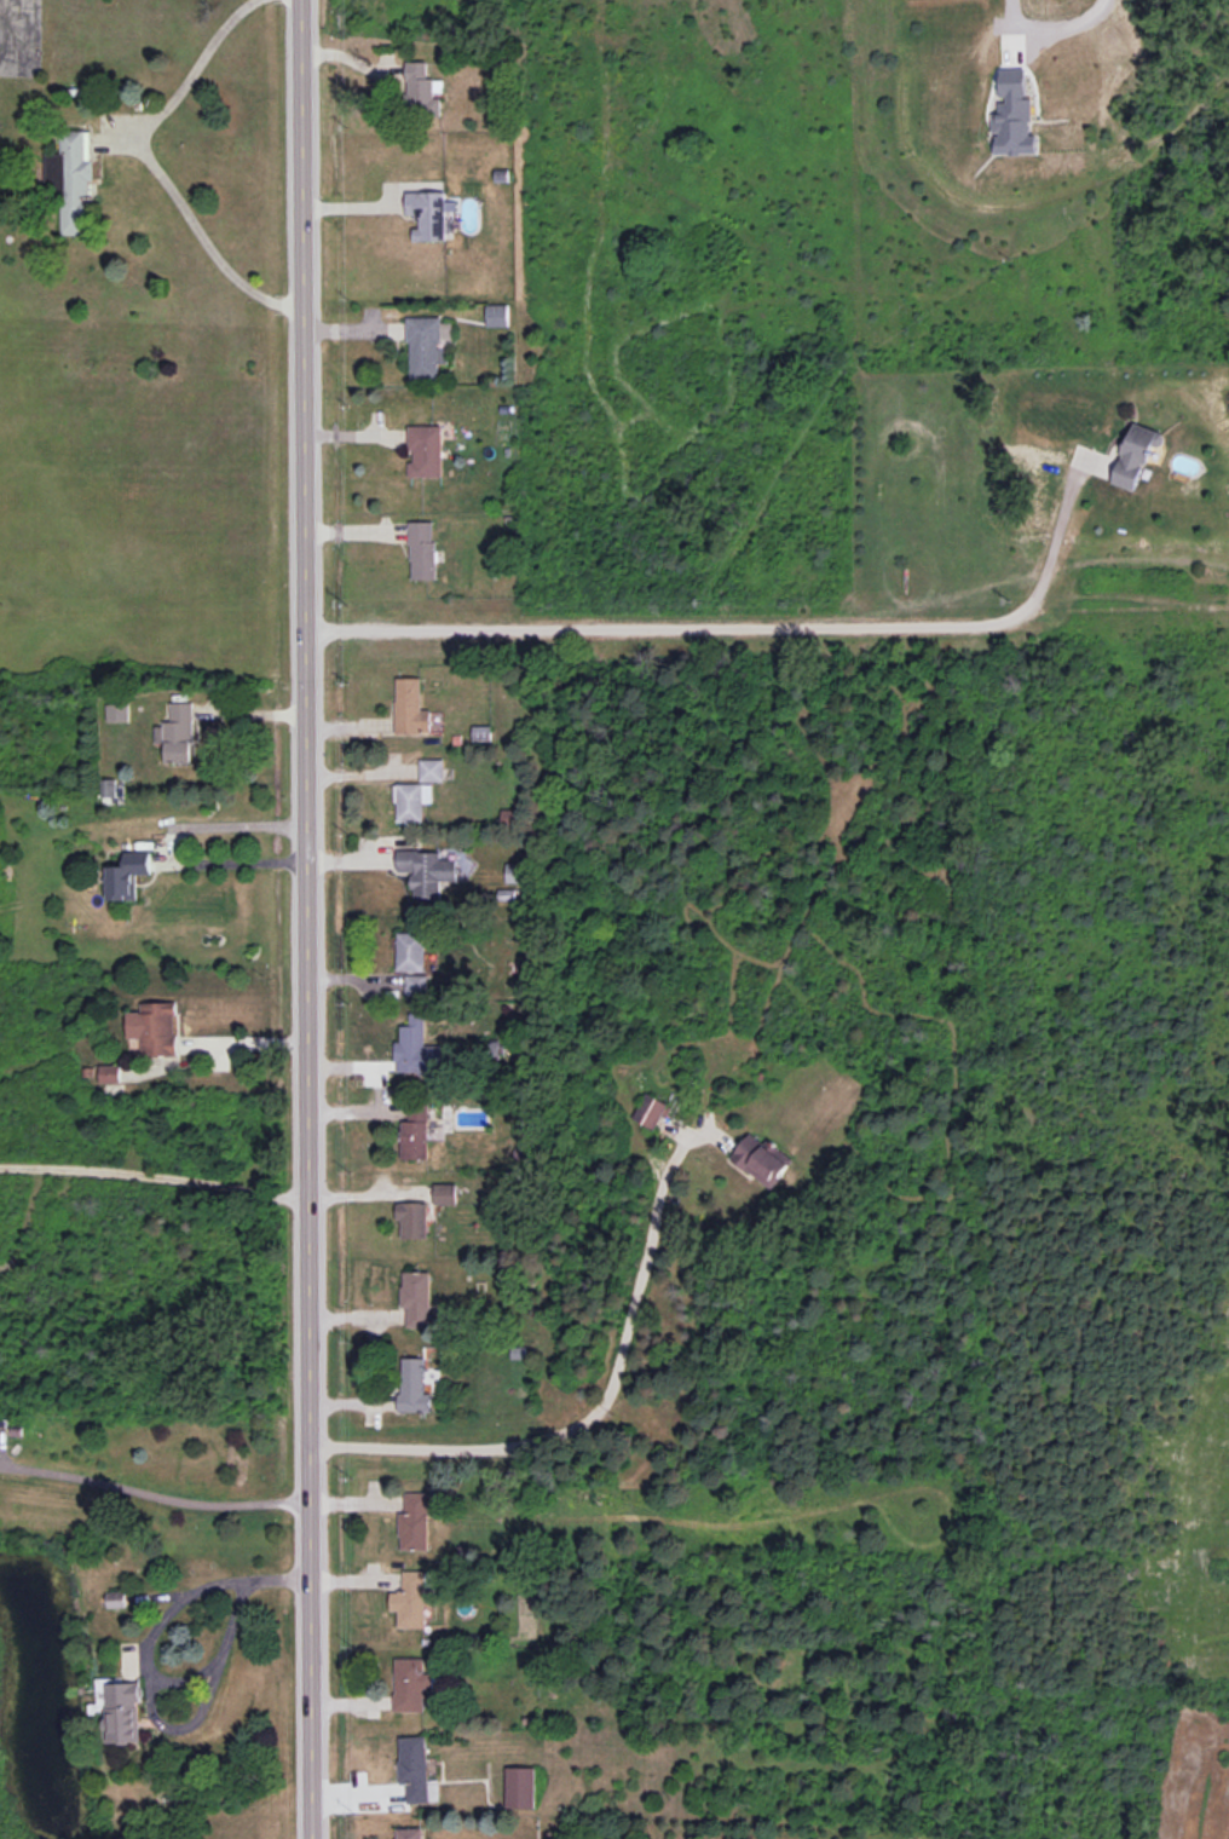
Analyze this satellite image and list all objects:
road: (1067, 27)
building: (421, 90)
building: (1014, 115)
road: (144, 157)
building: (73, 180)
building: (428, 214)
building: (497, 315)
building: (427, 346)
building: (425, 451)
building: (1136, 457)
building: (422, 549)
road: (748, 636)
building: (411, 707)
building: (116, 711)
building: (481, 732)
building: (177, 733)
building: (432, 769)
building: (108, 790)
building: (411, 802)
building: (508, 818)
road: (167, 857)
building: (427, 872)
building: (517, 872)
building: (128, 875)
road: (306, 919)
building: (411, 951)
building: (416, 985)
building: (154, 1027)
building: (416, 1049)
building: (110, 1073)
road: (380, 1090)
building: (651, 1111)
building: (415, 1132)
building: (763, 1160)
road: (155, 1184)
building: (445, 1193)
building: (412, 1218)
building: (417, 1298)
building: (414, 1385)
road: (602, 1416)
road: (154, 1495)
building: (416, 1520)
road: (243, 1592)
building: (116, 1599)
building: (410, 1599)
building: (410, 1684)
building: (121, 1711)
building: (414, 1768)
building: (519, 1787)
building: (408, 1833)

